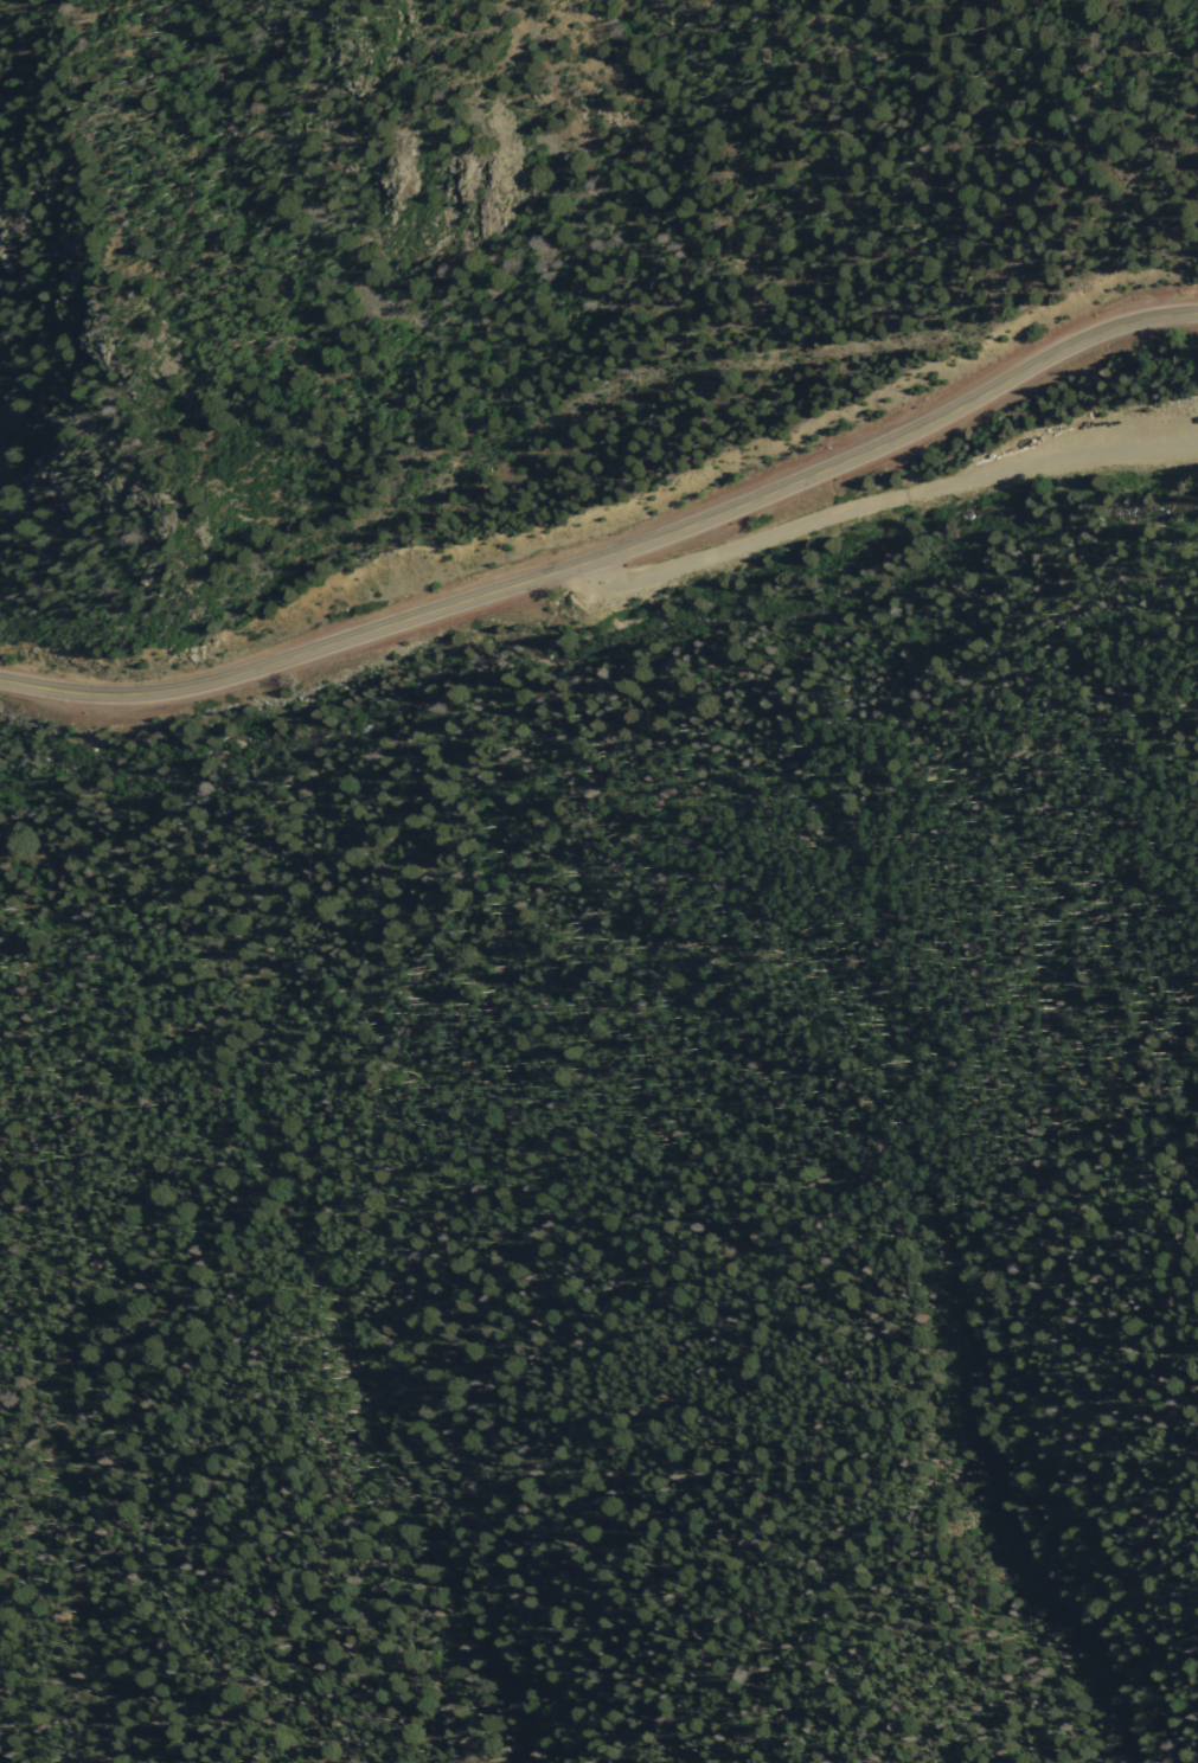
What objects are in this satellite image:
road: (882, 506)
road: (614, 552)

